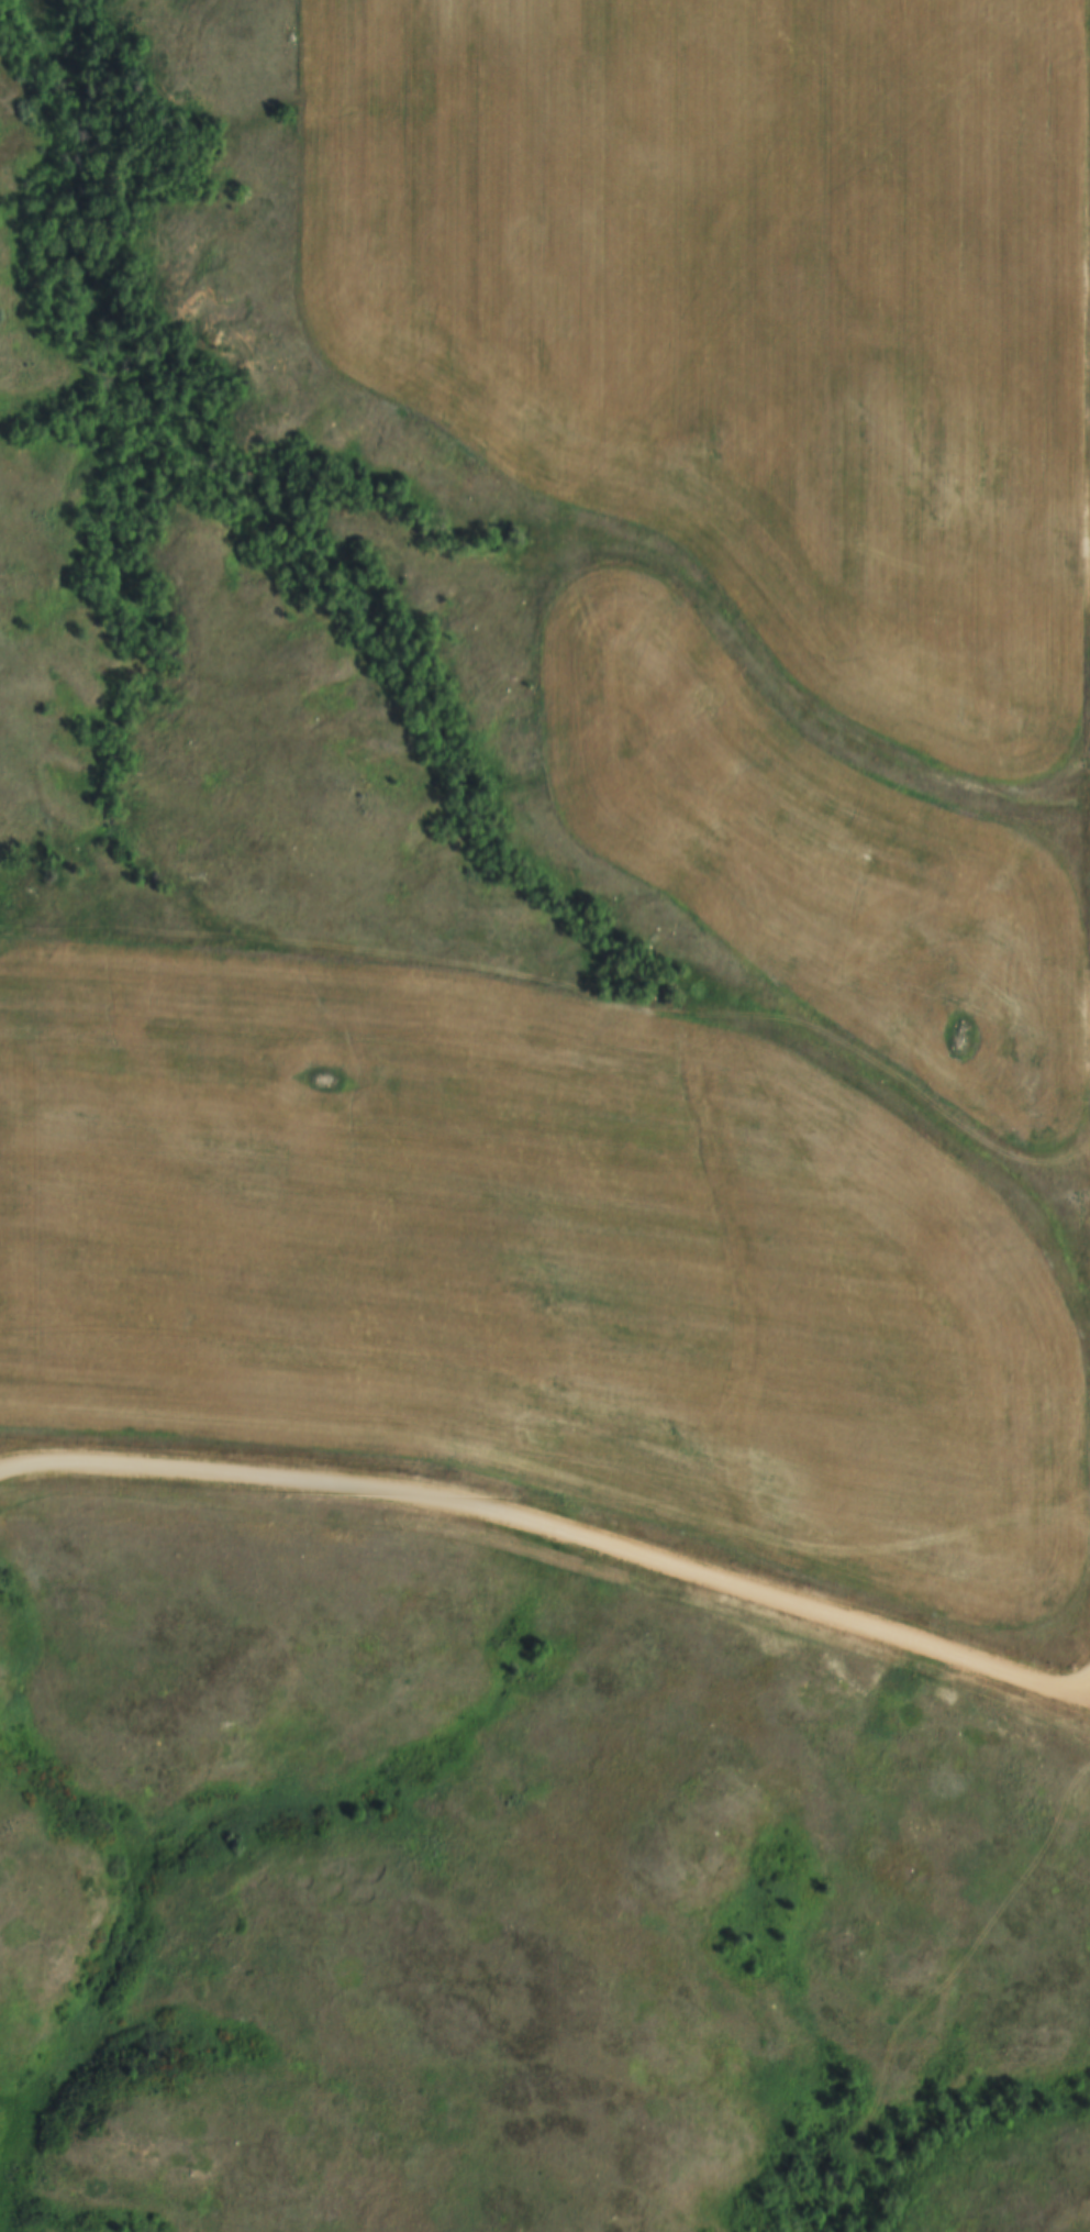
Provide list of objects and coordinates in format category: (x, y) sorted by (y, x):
road: (12, 1455)
road: (555, 1531)

